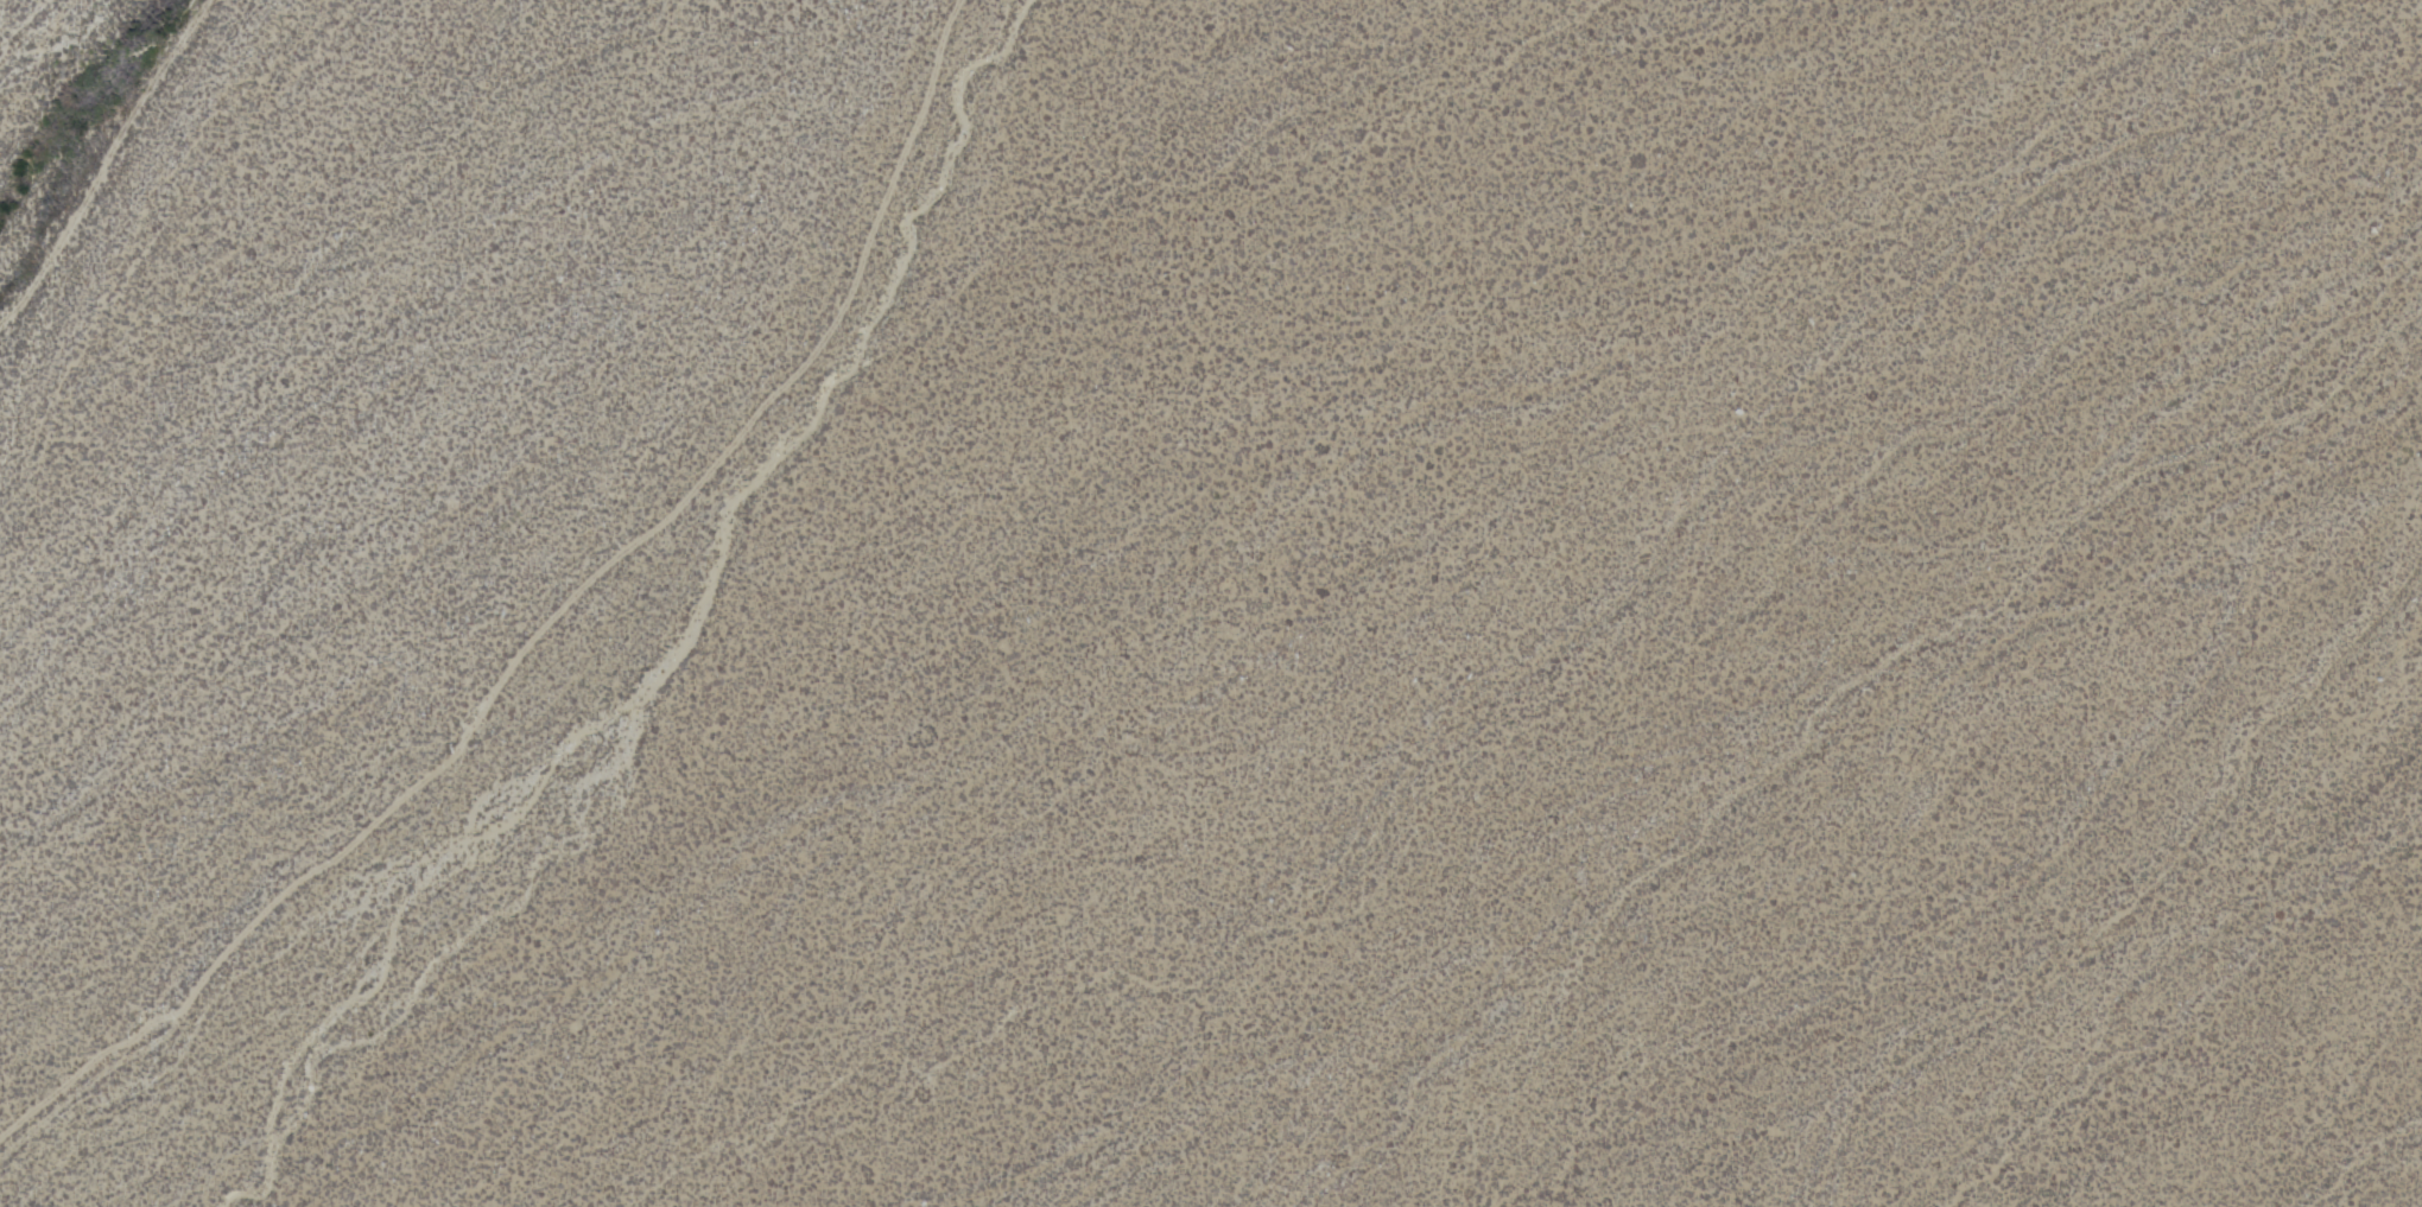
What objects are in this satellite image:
road: (108, 166)
road: (552, 625)

